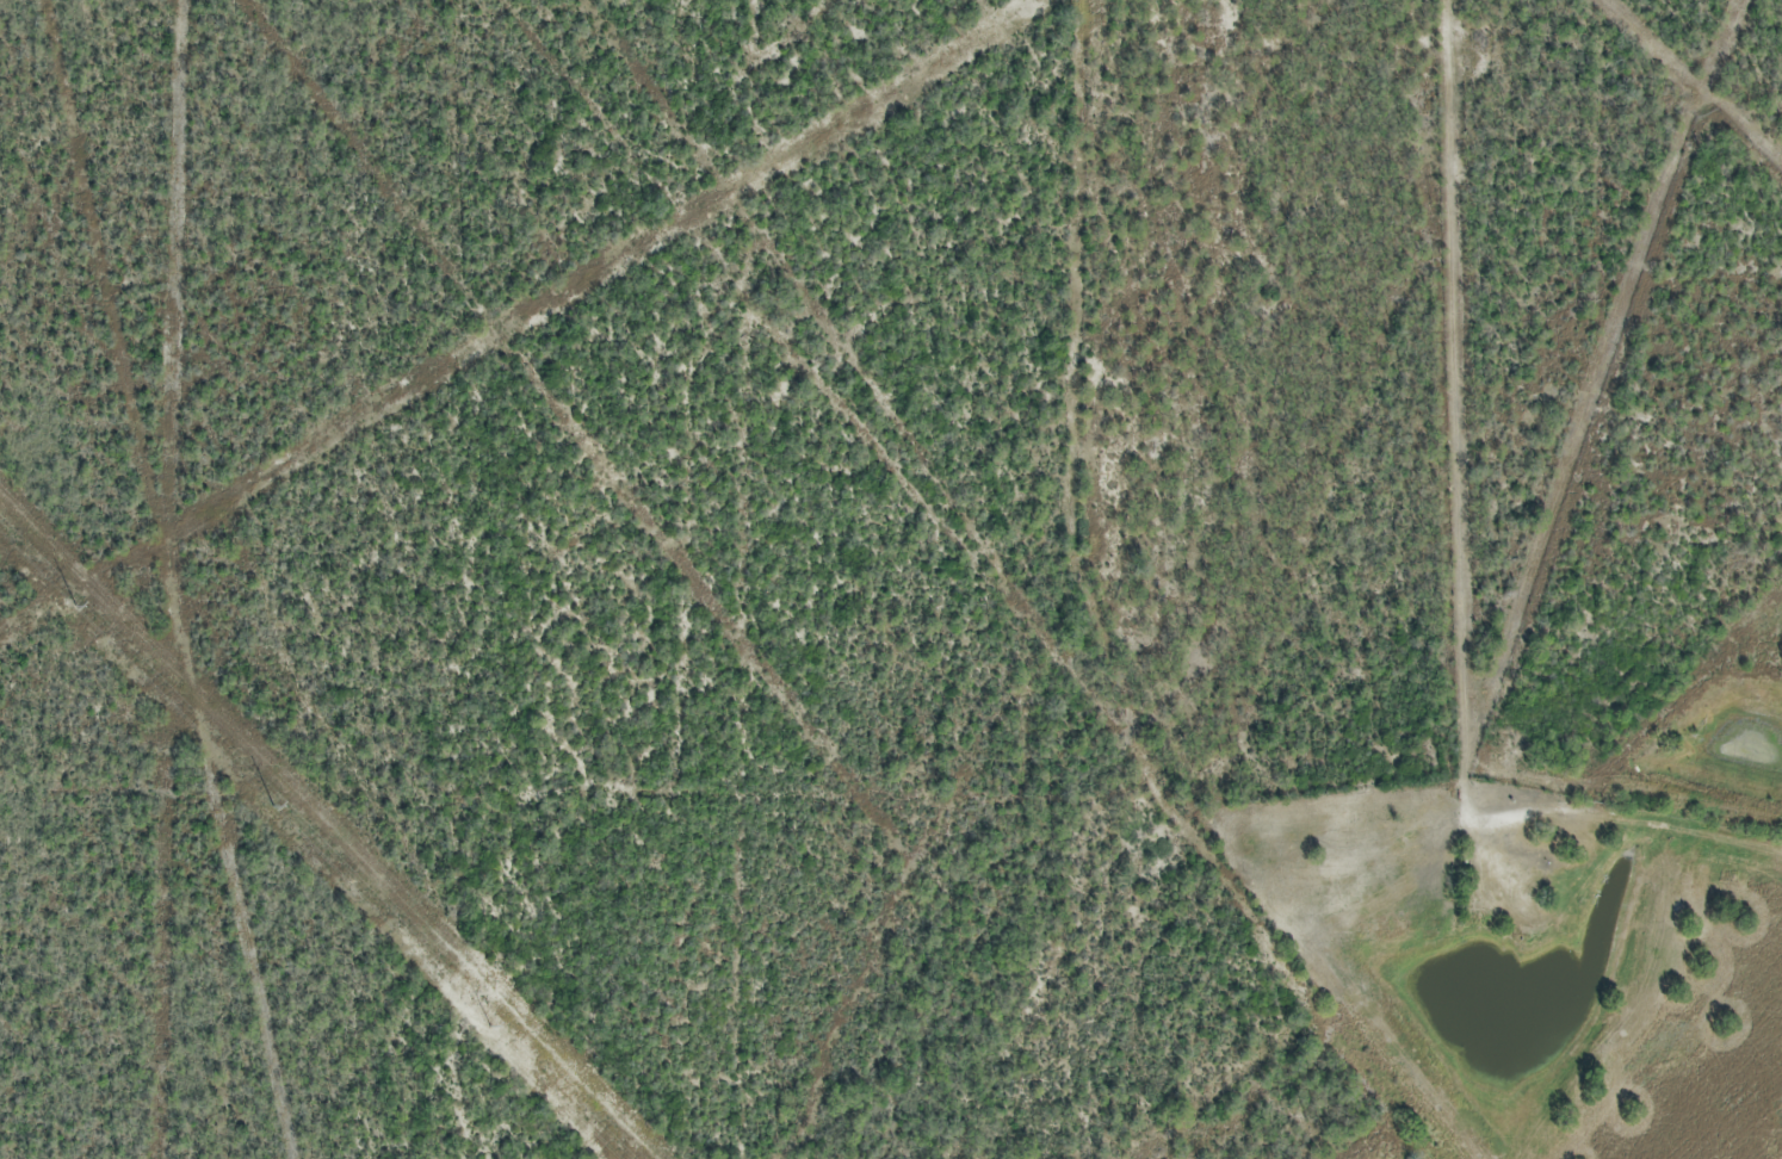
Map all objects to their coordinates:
power tower: (75, 606)
power tower: (274, 808)
power tower: (489, 1025)

